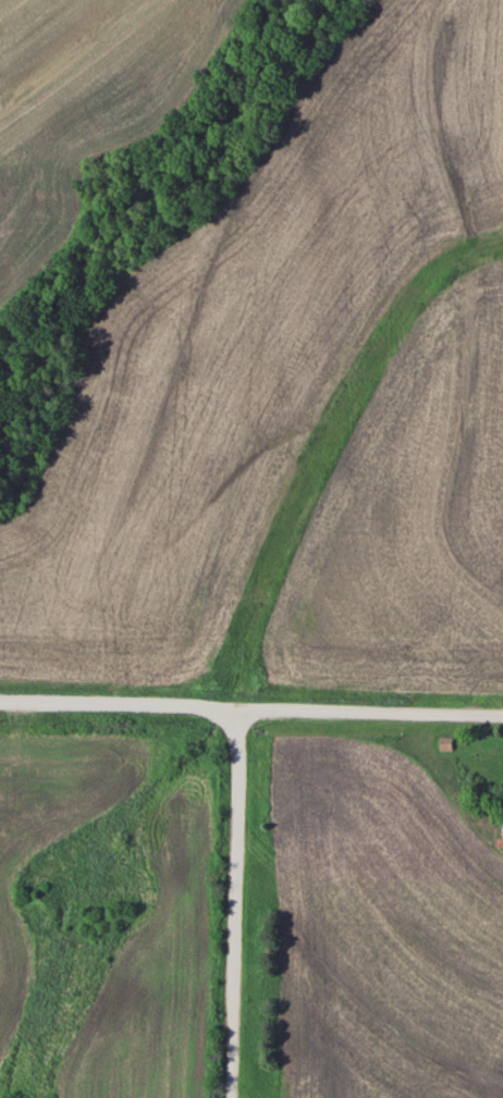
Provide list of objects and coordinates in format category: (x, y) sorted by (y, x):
road: (251, 708)
road: (233, 903)

